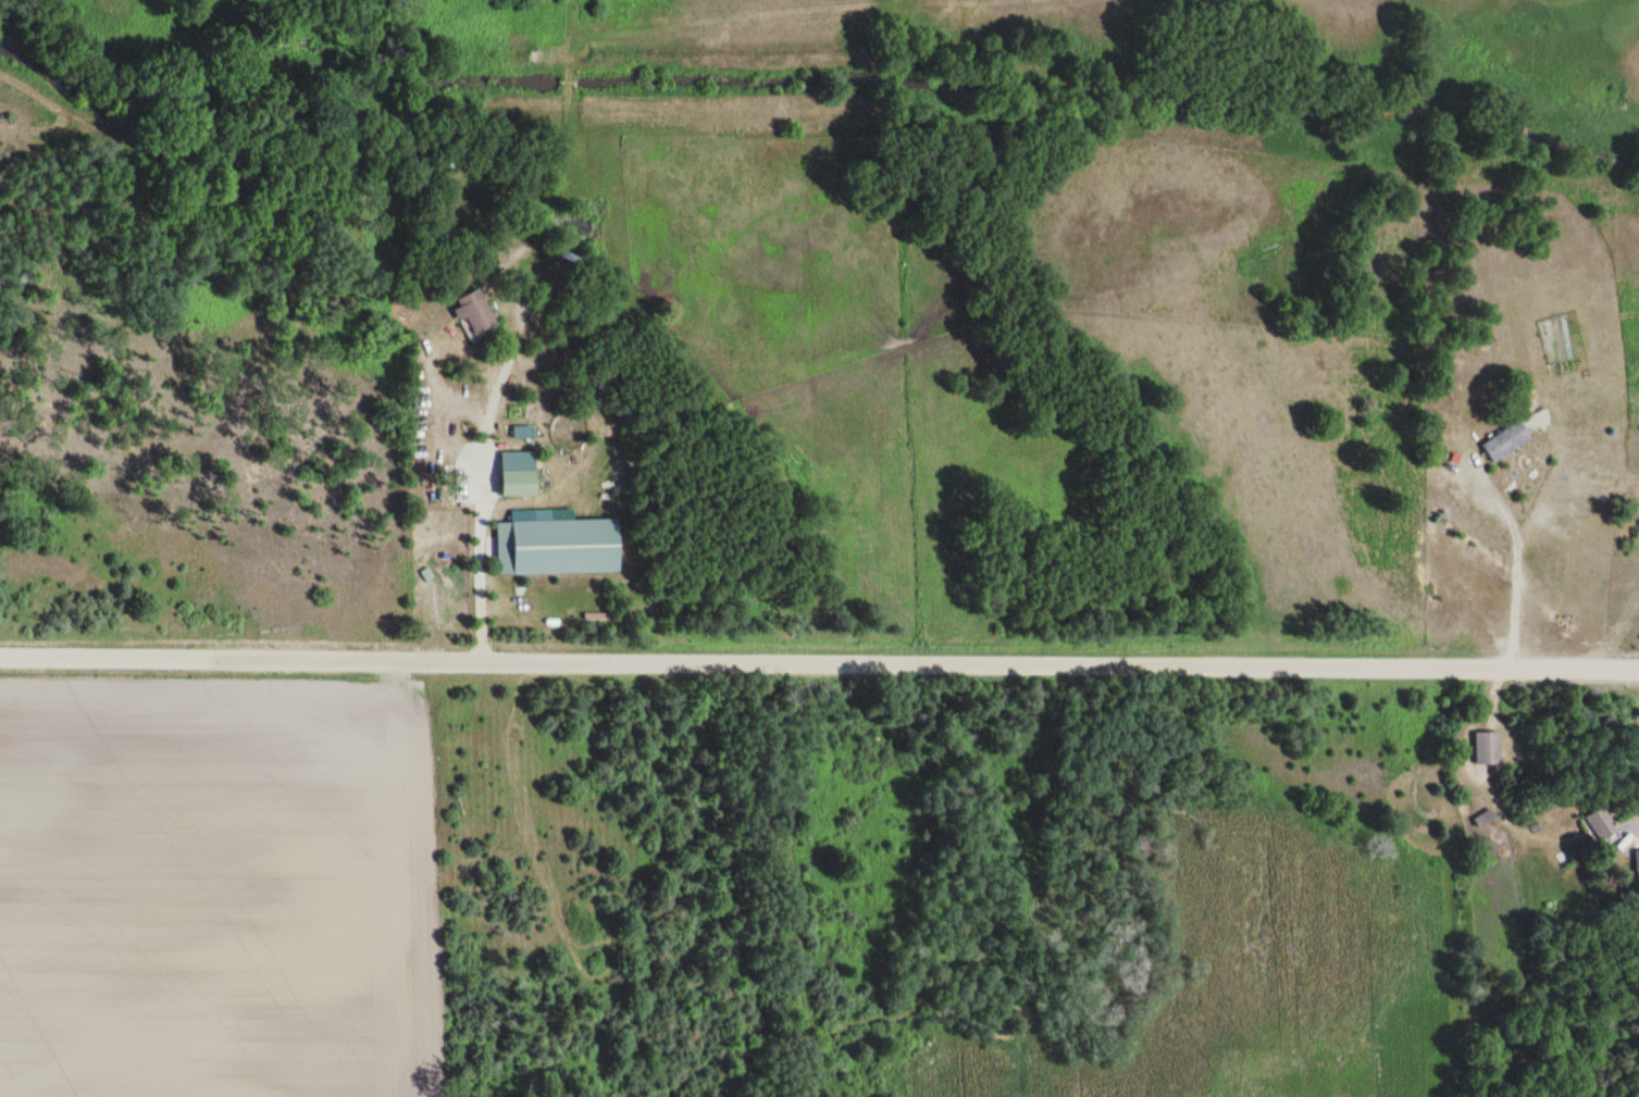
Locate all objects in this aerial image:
building: (474, 313)
building: (1507, 441)
building: (517, 476)
building: (562, 544)
road: (819, 640)
building: (1488, 747)
building: (1485, 818)
building: (1602, 824)
building: (1636, 865)

